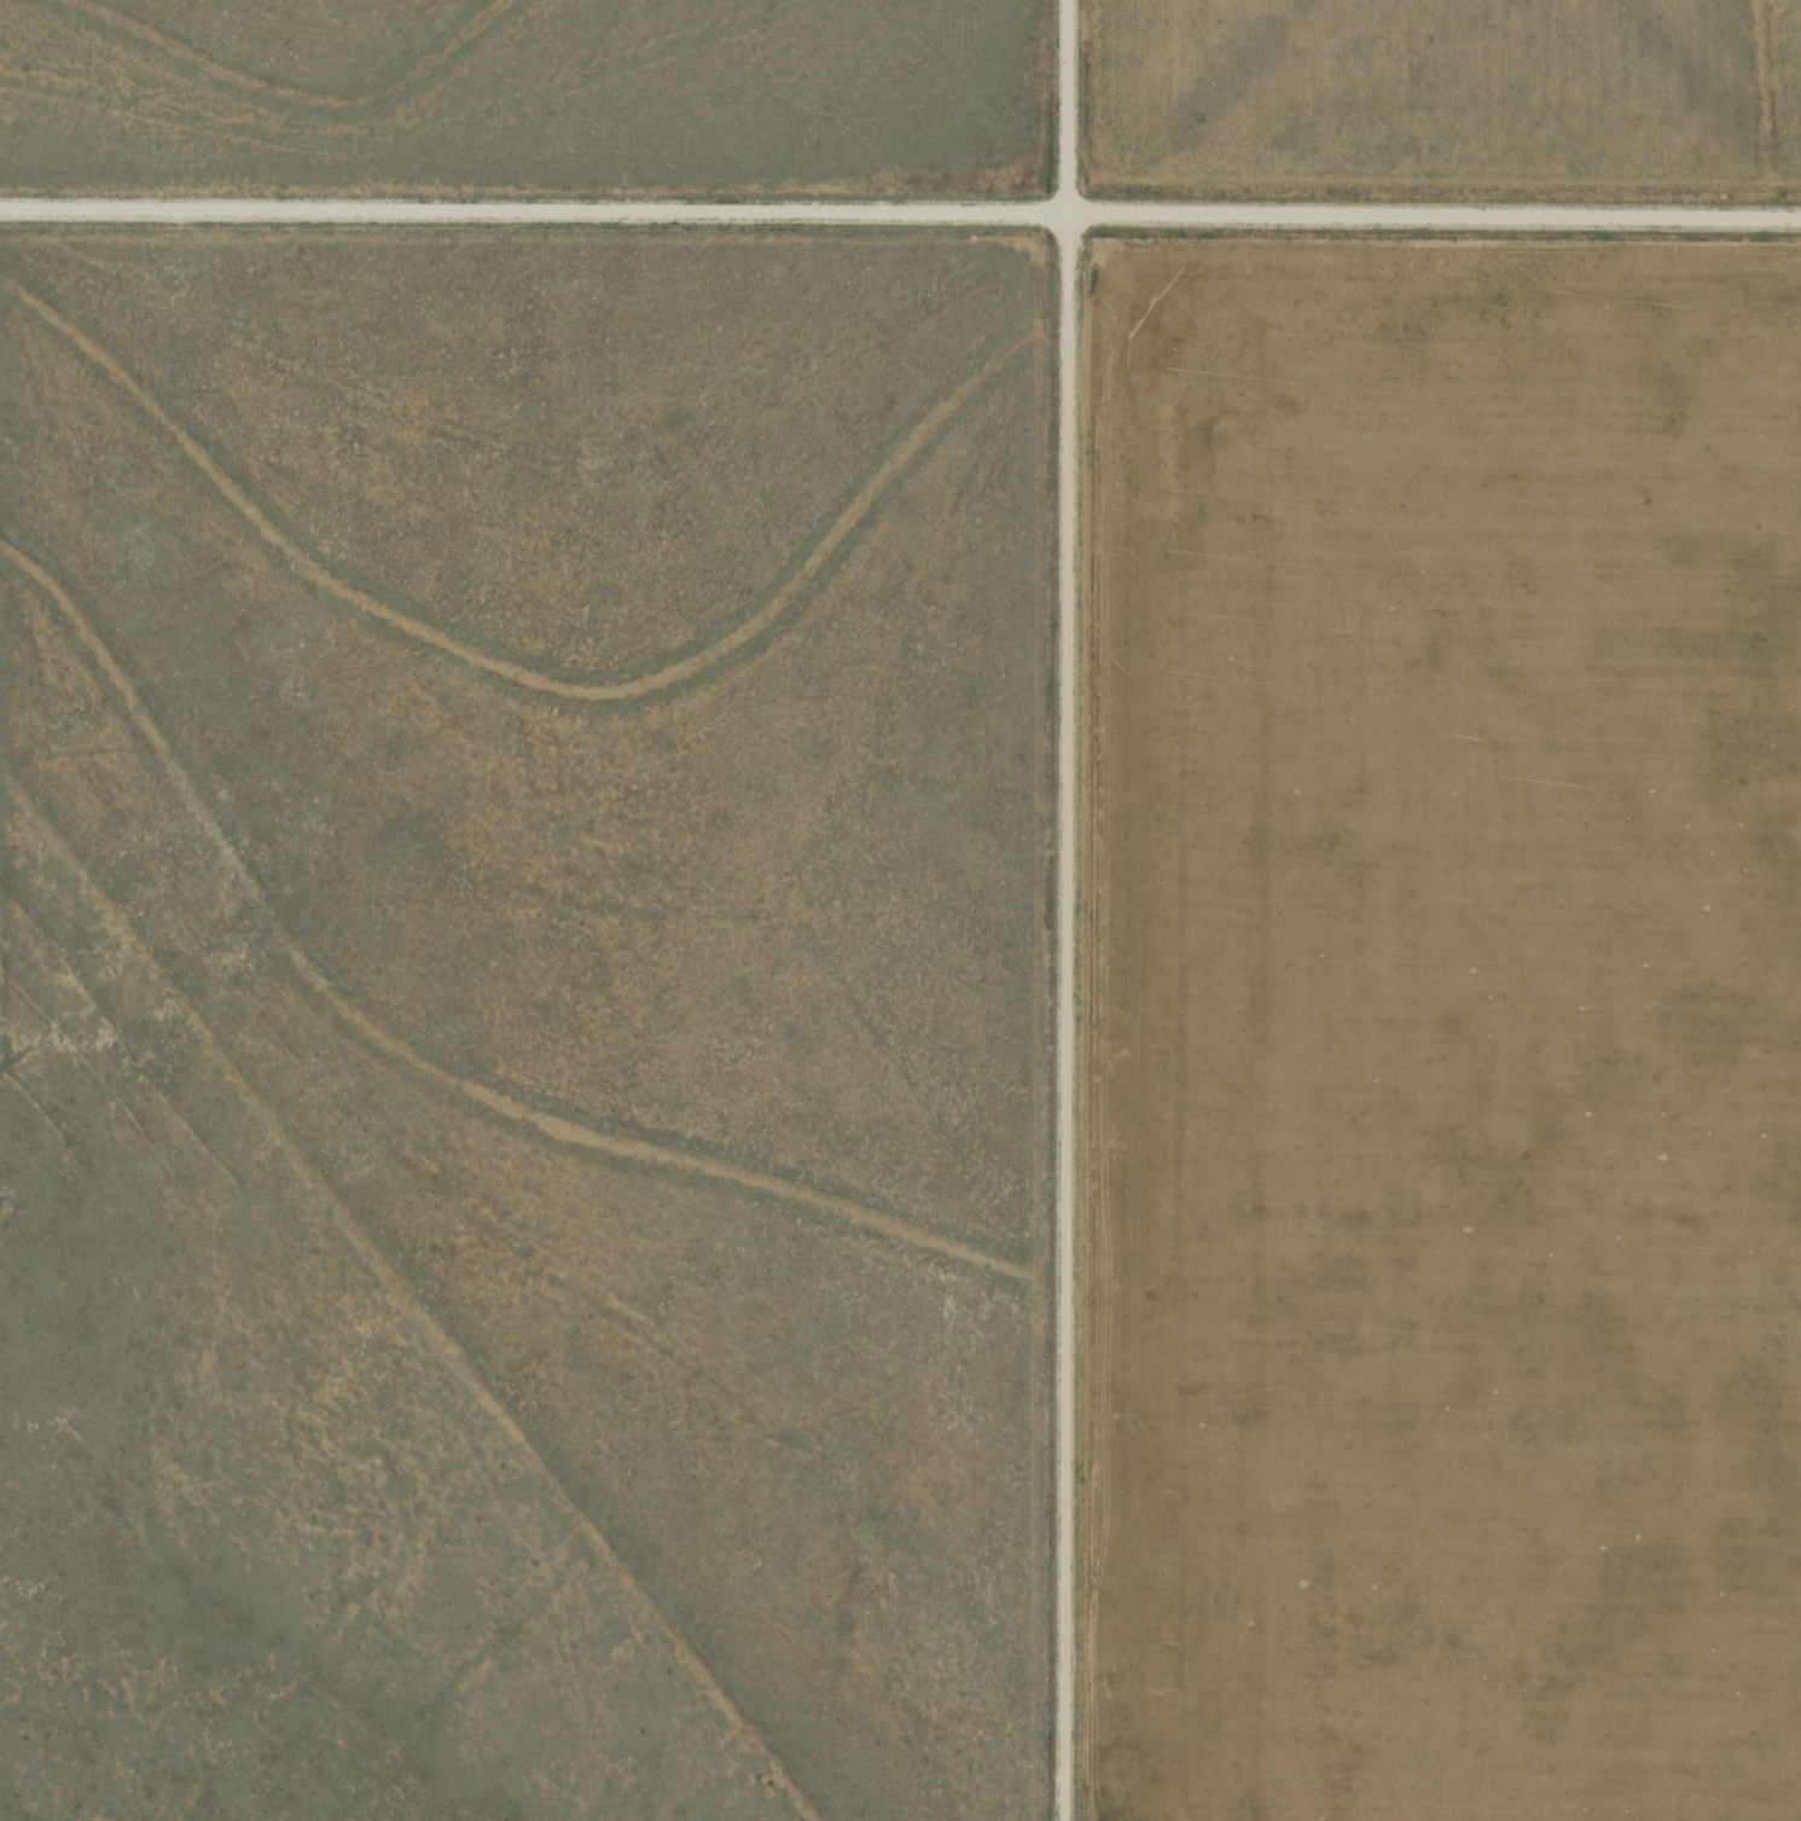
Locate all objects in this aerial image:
road: (900, 227)
road: (1081, 910)

